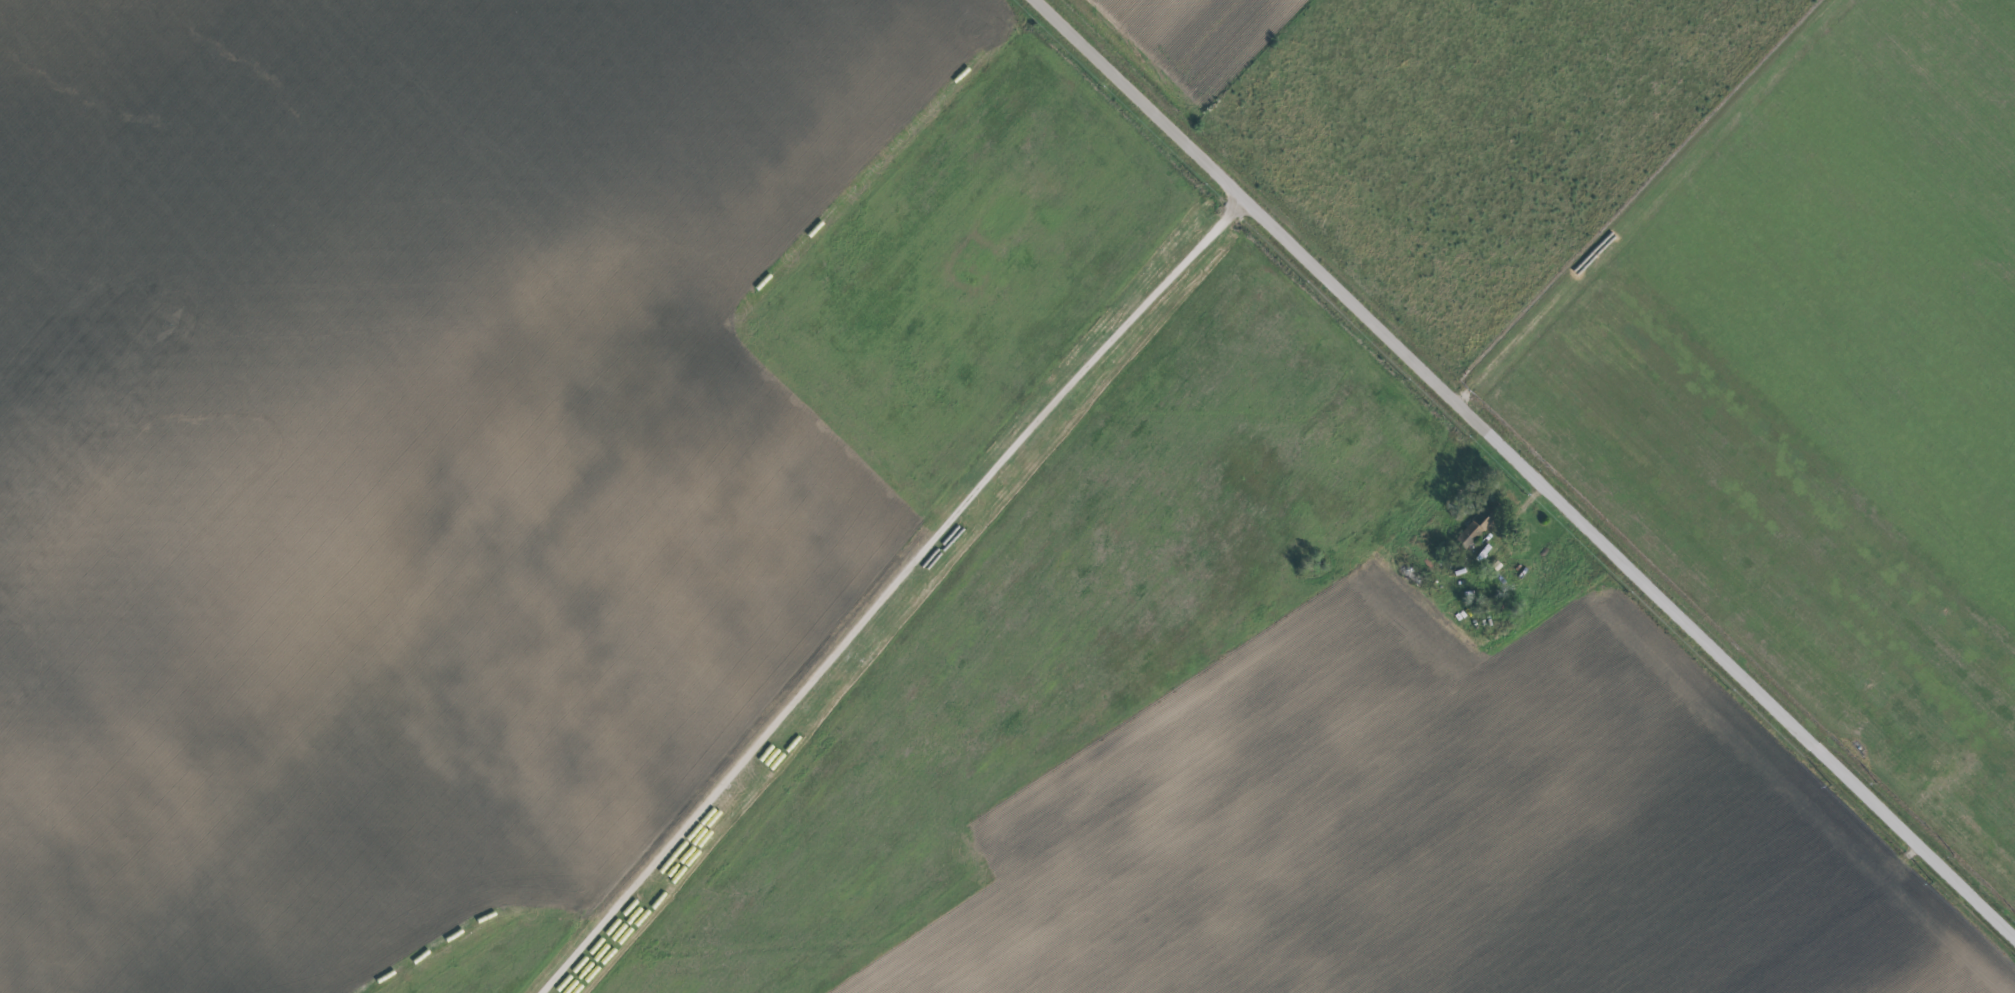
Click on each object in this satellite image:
road: (1527, 468)
building: (1478, 523)
road: (899, 595)

